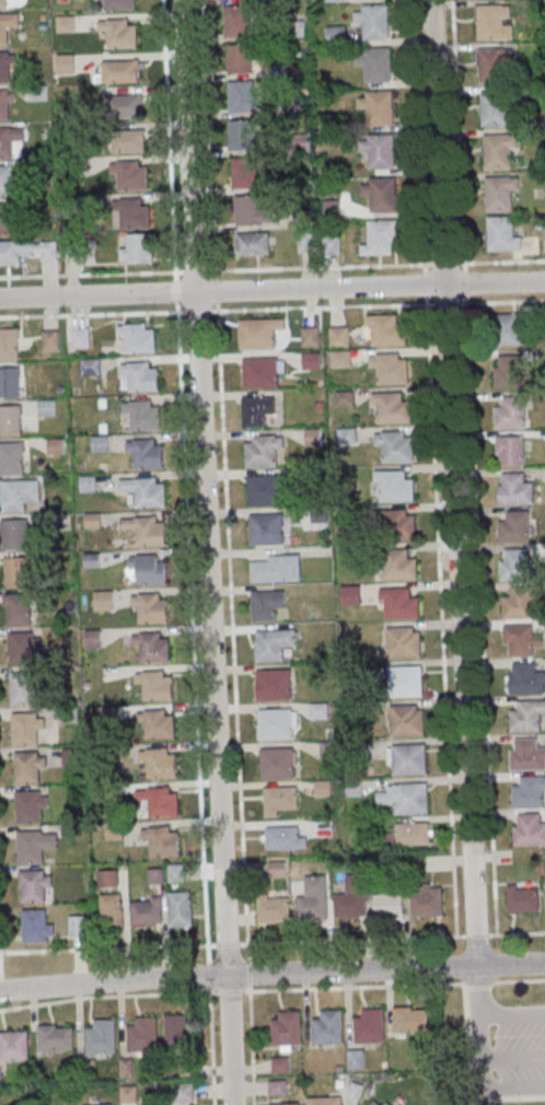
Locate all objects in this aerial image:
building: (335, 0)
building: (117, 4)
building: (235, 21)
building: (371, 21)
building: (491, 21)
building: (7, 25)
building: (117, 33)
building: (336, 34)
building: (237, 58)
building: (66, 63)
building: (491, 63)
building: (373, 65)
building: (7, 67)
building: (120, 71)
building: (239, 95)
building: (7, 105)
building: (127, 105)
building: (494, 106)
building: (375, 107)
road: (456, 131)
road: (416, 132)
building: (240, 133)
building: (9, 140)
building: (129, 140)
building: (376, 150)
building: (496, 150)
road: (167, 155)
building: (242, 172)
building: (129, 175)
building: (9, 181)
building: (498, 191)
building: (380, 193)
building: (245, 209)
building: (131, 212)
building: (8, 218)
building: (503, 233)
building: (379, 236)
building: (254, 243)
building: (333, 243)
building: (137, 247)
building: (26, 251)
road: (272, 269)
road: (272, 288)
road: (271, 309)
building: (510, 329)
building: (386, 330)
building: (259, 333)
building: (311, 337)
building: (137, 338)
building: (50, 340)
building: (10, 345)
building: (312, 361)
building: (389, 369)
building: (258, 372)
building: (510, 372)
building: (140, 376)
building: (10, 382)
building: (390, 407)
building: (257, 409)
building: (511, 414)
building: (142, 415)
building: (11, 420)
building: (313, 437)
building: (101, 443)
building: (392, 445)
building: (260, 450)
building: (510, 451)
building: (146, 453)
building: (12, 458)
road: (222, 472)
road: (453, 482)
building: (89, 484)
building: (392, 485)
building: (513, 489)
building: (263, 490)
building: (148, 492)
building: (19, 495)
building: (94, 521)
building: (394, 524)
building: (515, 527)
building: (264, 528)
building: (147, 532)
building: (15, 534)
road: (207, 551)
building: (396, 563)
building: (515, 565)
building: (277, 568)
building: (148, 569)
building: (18, 572)
building: (351, 594)
road: (479, 598)
road: (439, 600)
building: (104, 601)
building: (398, 603)
building: (521, 603)
building: (267, 604)
building: (150, 608)
building: (19, 610)
road: (190, 628)
building: (523, 639)
building: (401, 642)
building: (274, 643)
building: (151, 647)
building: (23, 648)
building: (524, 678)
building: (404, 681)
building: (155, 685)
building: (272, 685)
building: (23, 689)
building: (320, 710)
building: (527, 716)
building: (405, 720)
building: (158, 723)
building: (274, 723)
building: (27, 730)
building: (526, 755)
building: (408, 759)
building: (159, 763)
building: (276, 764)
building: (28, 768)
building: (324, 788)
building: (530, 792)
building: (282, 799)
building: (409, 799)
building: (161, 802)
building: (31, 806)
building: (527, 829)
building: (414, 834)
building: (286, 838)
building: (162, 841)
building: (36, 845)
building: (176, 872)
building: (156, 875)
building: (108, 877)
building: (35, 884)
building: (523, 898)
building: (351, 899)
building: (314, 900)
building: (428, 900)
building: (390, 905)
building: (181, 908)
building: (113, 909)
building: (275, 910)
building: (148, 911)
building: (79, 922)
building: (37, 926)
road: (271, 942)
road: (271, 972)
road: (271, 989)
road: (477, 991)
road: (511, 1014)
building: (411, 1019)
building: (370, 1025)
building: (287, 1027)
building: (328, 1027)
building: (179, 1032)
building: (143, 1035)
building: (57, 1037)
building: (102, 1037)
building: (14, 1046)
road: (250, 1047)
road: (210, 1048)
building: (356, 1059)
road: (480, 1083)
building: (278, 1086)
building: (325, 1101)
building: (286, 1103)
building: (102, 1104)
building: (370, 1104)

